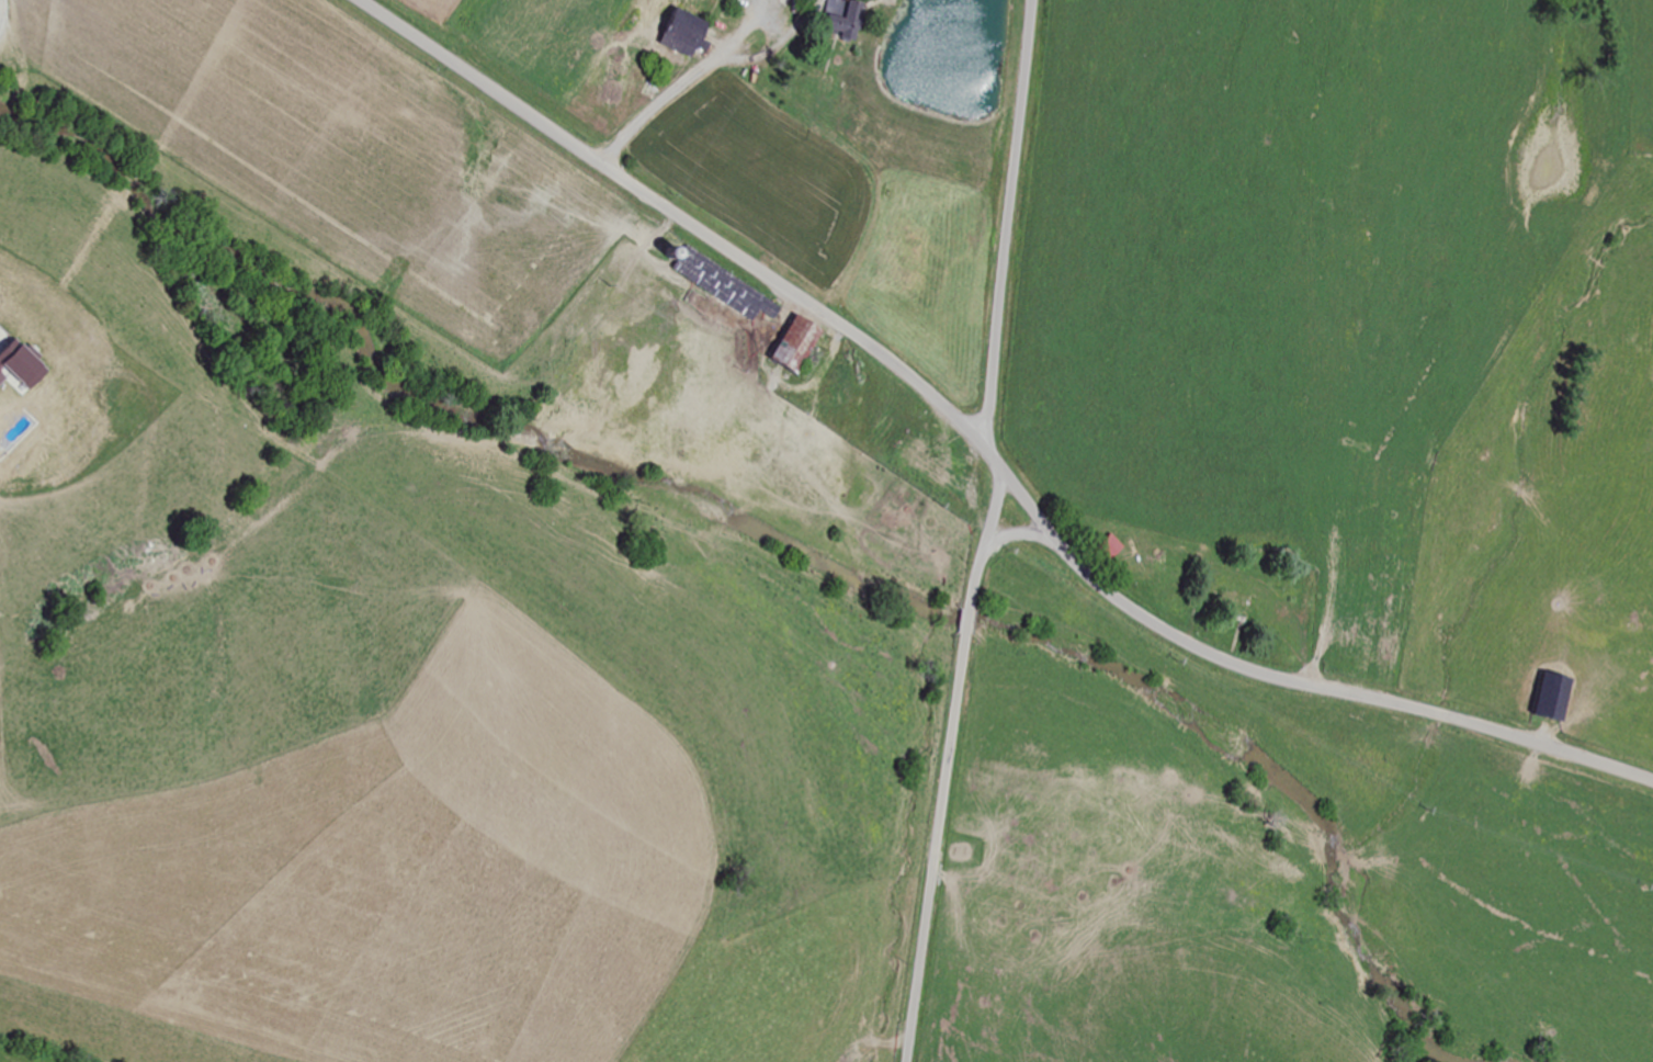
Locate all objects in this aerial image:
building: (850, 19)
building: (692, 35)
road: (1009, 225)
building: (726, 285)
building: (804, 343)
road: (983, 449)
road: (1018, 535)
building: (1117, 546)
building: (1239, 607)
building: (1560, 698)
road: (948, 766)

